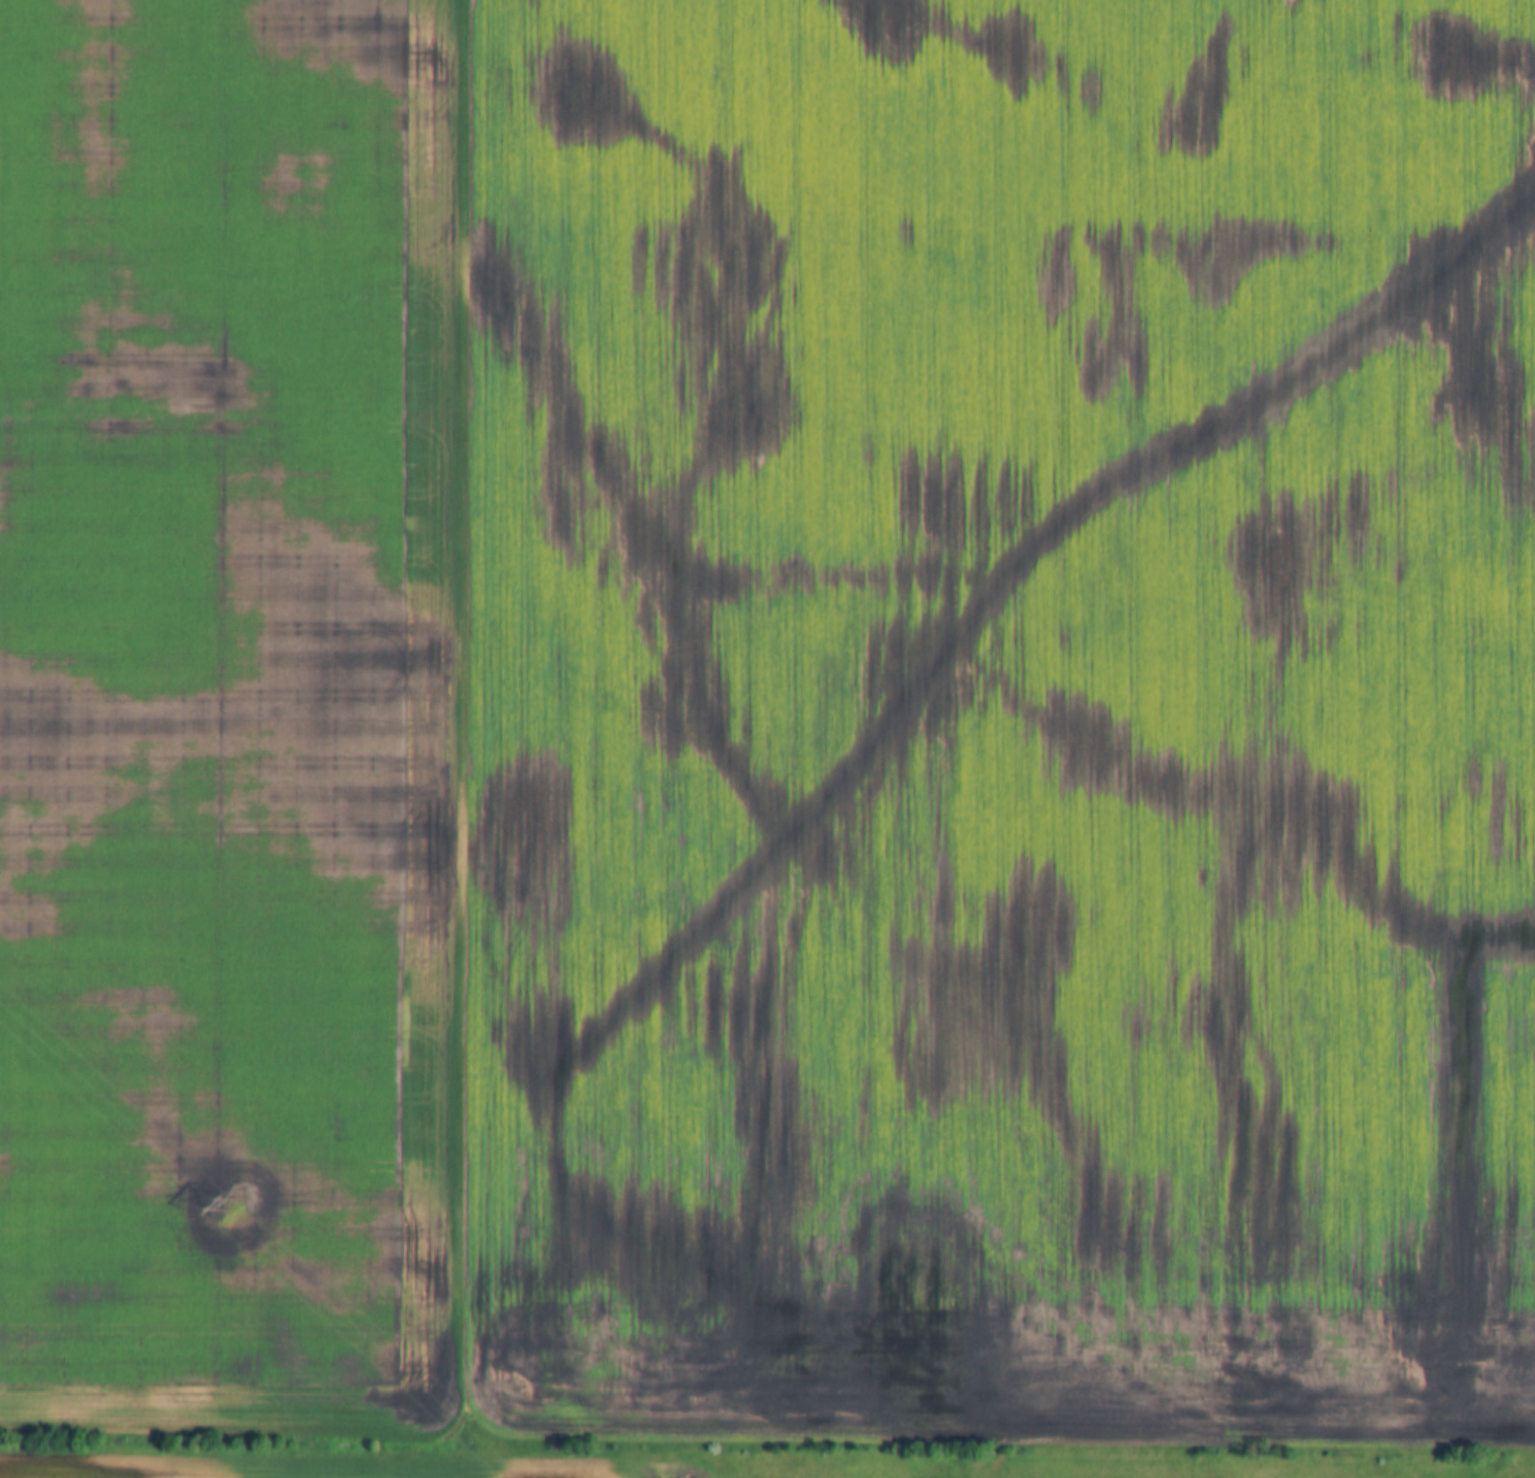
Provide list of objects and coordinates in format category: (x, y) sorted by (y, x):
power tower: (229, 1204)

